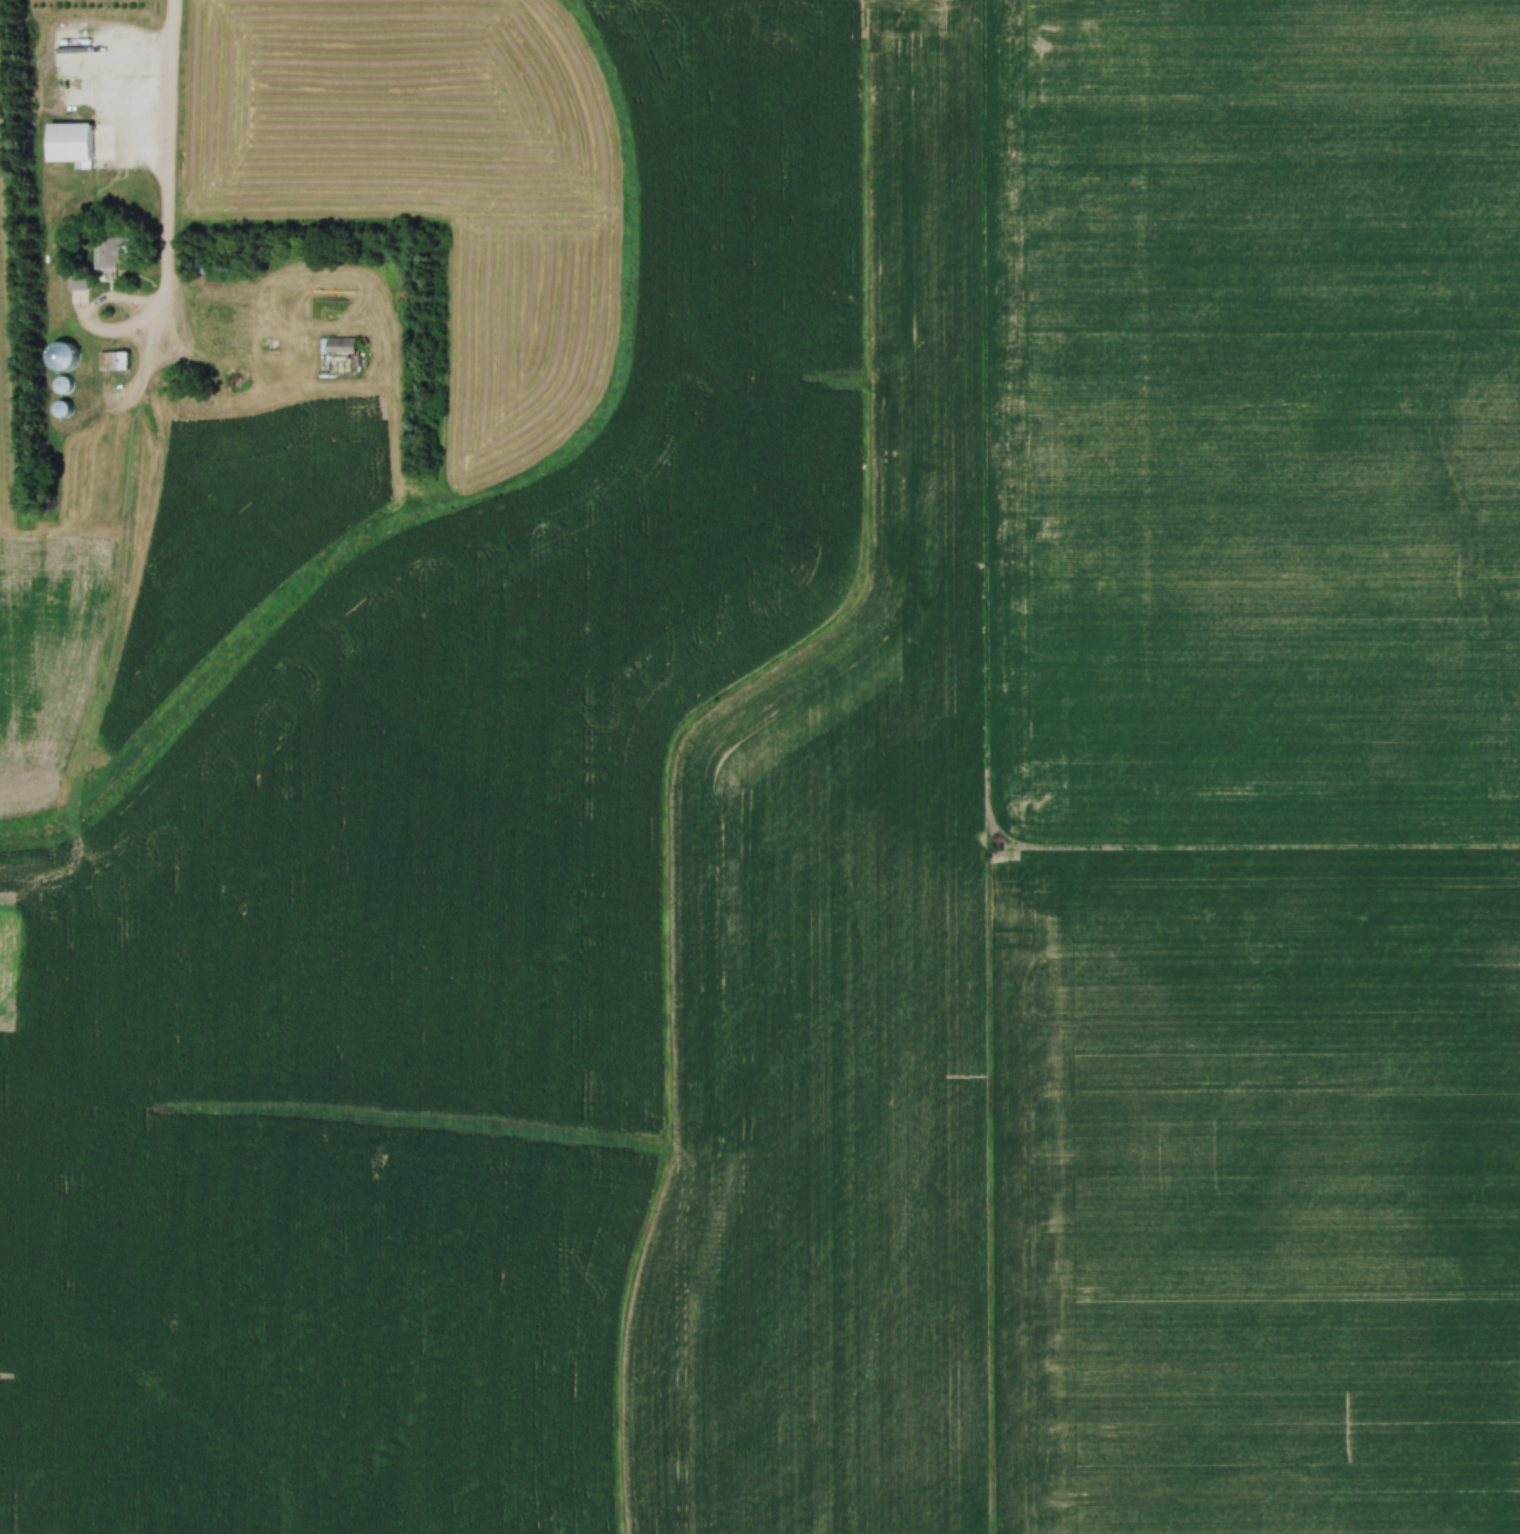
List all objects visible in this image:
building: (77, 145)
road: (167, 160)
building: (116, 253)
building: (80, 279)
building: (339, 345)
building: (69, 359)
building: (117, 362)
building: (67, 385)
building: (67, 410)

